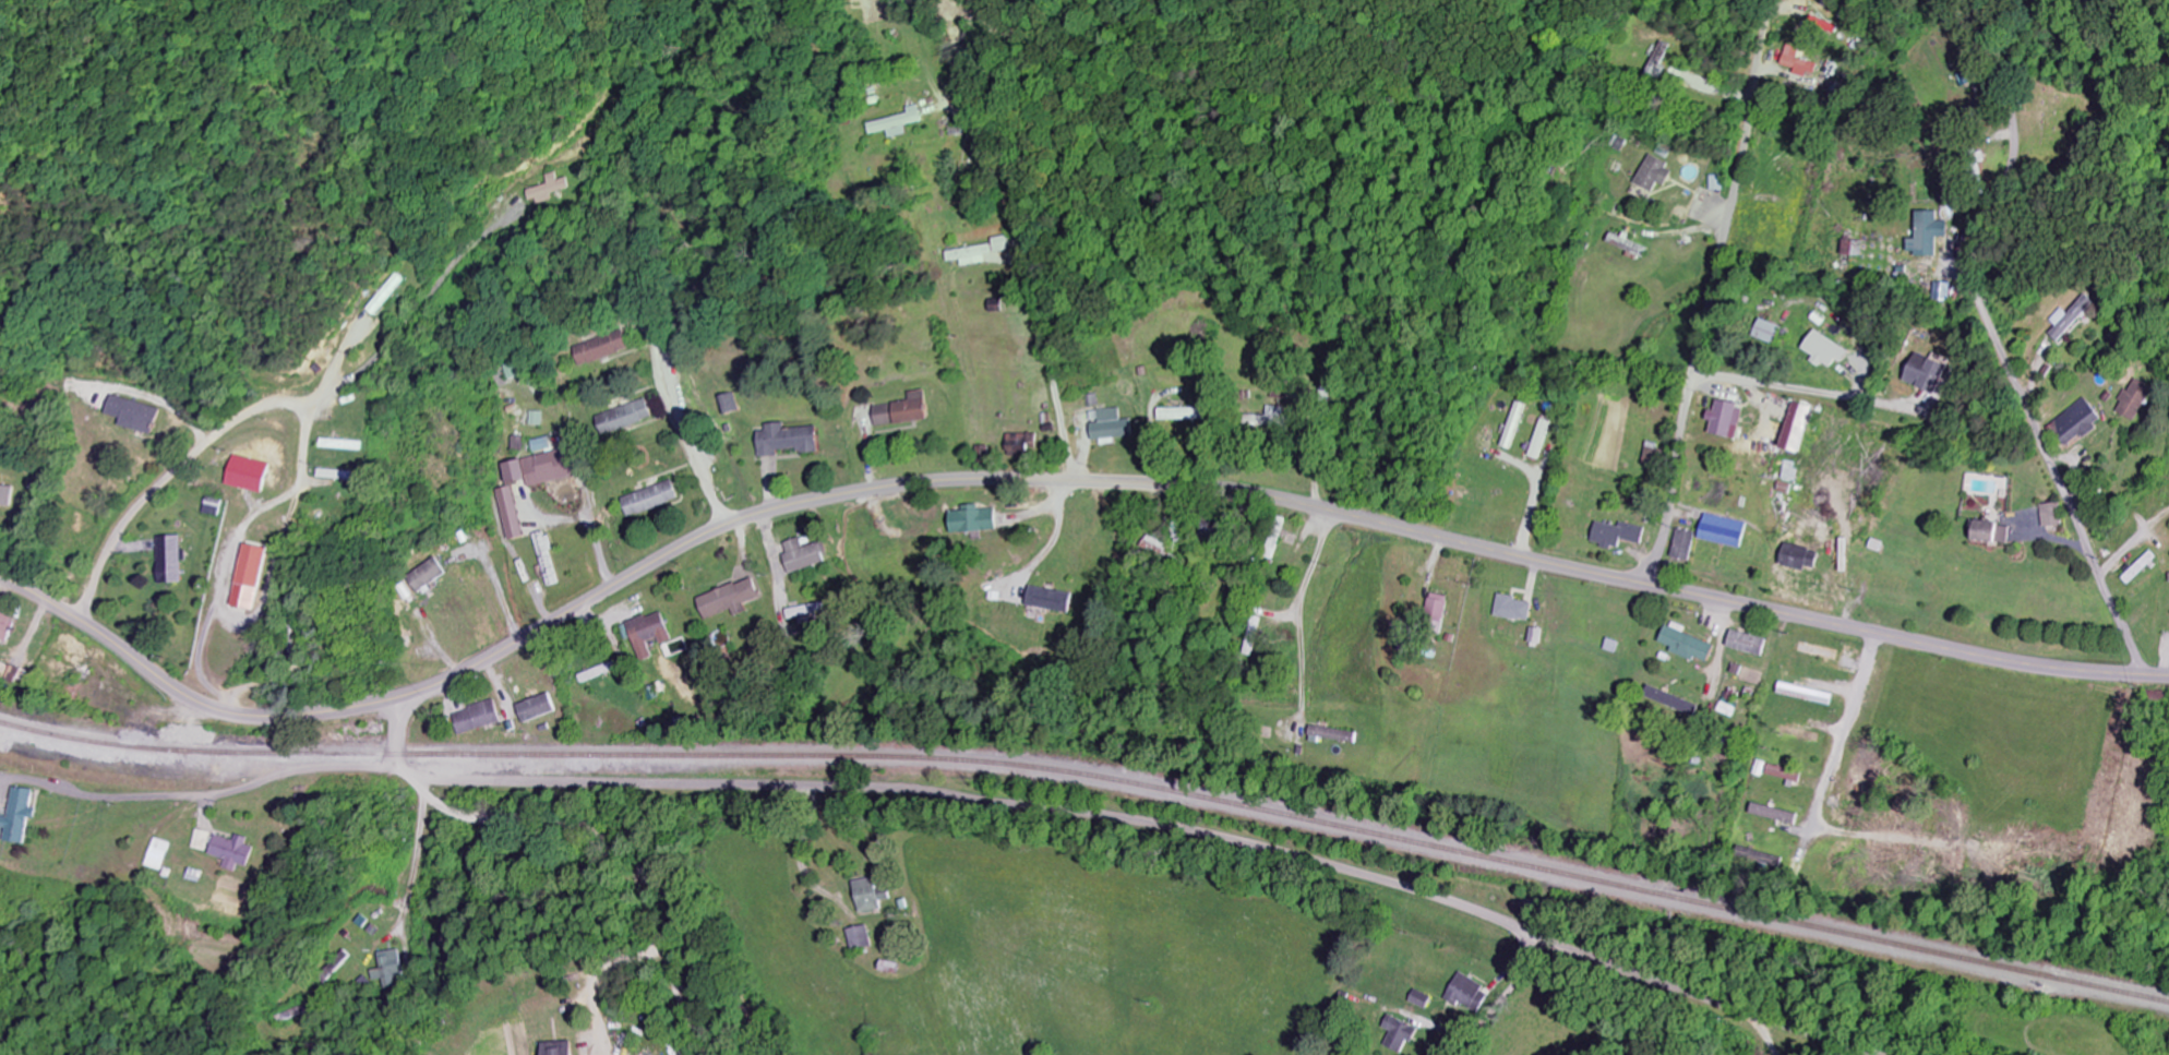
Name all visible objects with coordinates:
building: (1657, 60)
building: (1798, 63)
building: (898, 124)
building: (1655, 175)
building: (1716, 183)
building: (549, 190)
building: (1930, 235)
building: (1005, 244)
building: (1850, 247)
building: (971, 255)
building: (1946, 291)
road: (1711, 293)
building: (385, 295)
building: (2070, 320)
building: (1771, 332)
road: (1997, 340)
building: (602, 349)
building: (1826, 350)
building: (1928, 374)
building: (2133, 404)
building: (902, 411)
building: (1188, 415)
building: (135, 416)
building: (626, 417)
building: (1277, 417)
building: (537, 419)
building: (1729, 420)
building: (2078, 423)
building: (1106, 424)
building: (1514, 425)
building: (1798, 428)
building: (1542, 439)
building: (788, 441)
building: (1022, 444)
building: (547, 468)
building: (1789, 471)
building: (249, 475)
road: (1050, 481)
building: (1786, 489)
building: (7, 495)
building: (654, 499)
building: (512, 514)
building: (2053, 516)
building: (978, 520)
building: (1726, 531)
building: (1997, 532)
building: (1619, 536)
building: (1157, 546)
building: (1685, 546)
building: (805, 556)
building: (1801, 558)
building: (548, 559)
building: (170, 560)
building: (427, 575)
building: (252, 577)
building: (734, 599)
building: (1051, 600)
building: (1517, 609)
building: (808, 611)
building: (1440, 611)
building: (8, 627)
building: (654, 634)
building: (1256, 636)
building: (1750, 643)
building: (1691, 646)
building: (680, 647)
building: (1809, 694)
road: (1859, 702)
building: (539, 708)
building: (1729, 708)
building: (479, 718)
building: (1333, 735)
railway: (1093, 779)
building: (0, 808)
building: (1778, 814)
building: (21, 816)
road: (1121, 818)
building: (204, 840)
building: (237, 852)
building: (160, 854)
building: (875, 895)
building: (863, 938)
building: (393, 970)
building: (1473, 995)
road: (1506, 998)
building: (1405, 1034)
building: (563, 1048)

